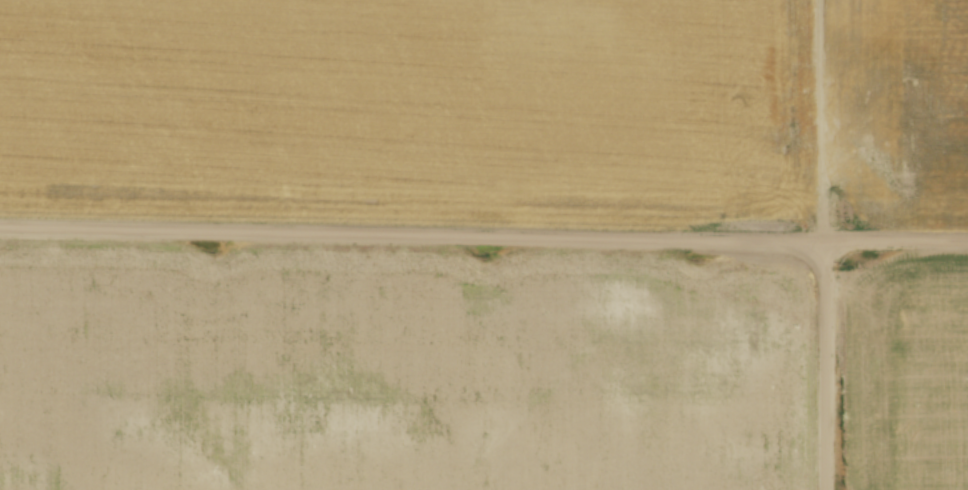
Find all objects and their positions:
crop: (488, 109)
road: (483, 234)
road: (823, 365)
crop: (400, 368)
crop: (909, 372)

